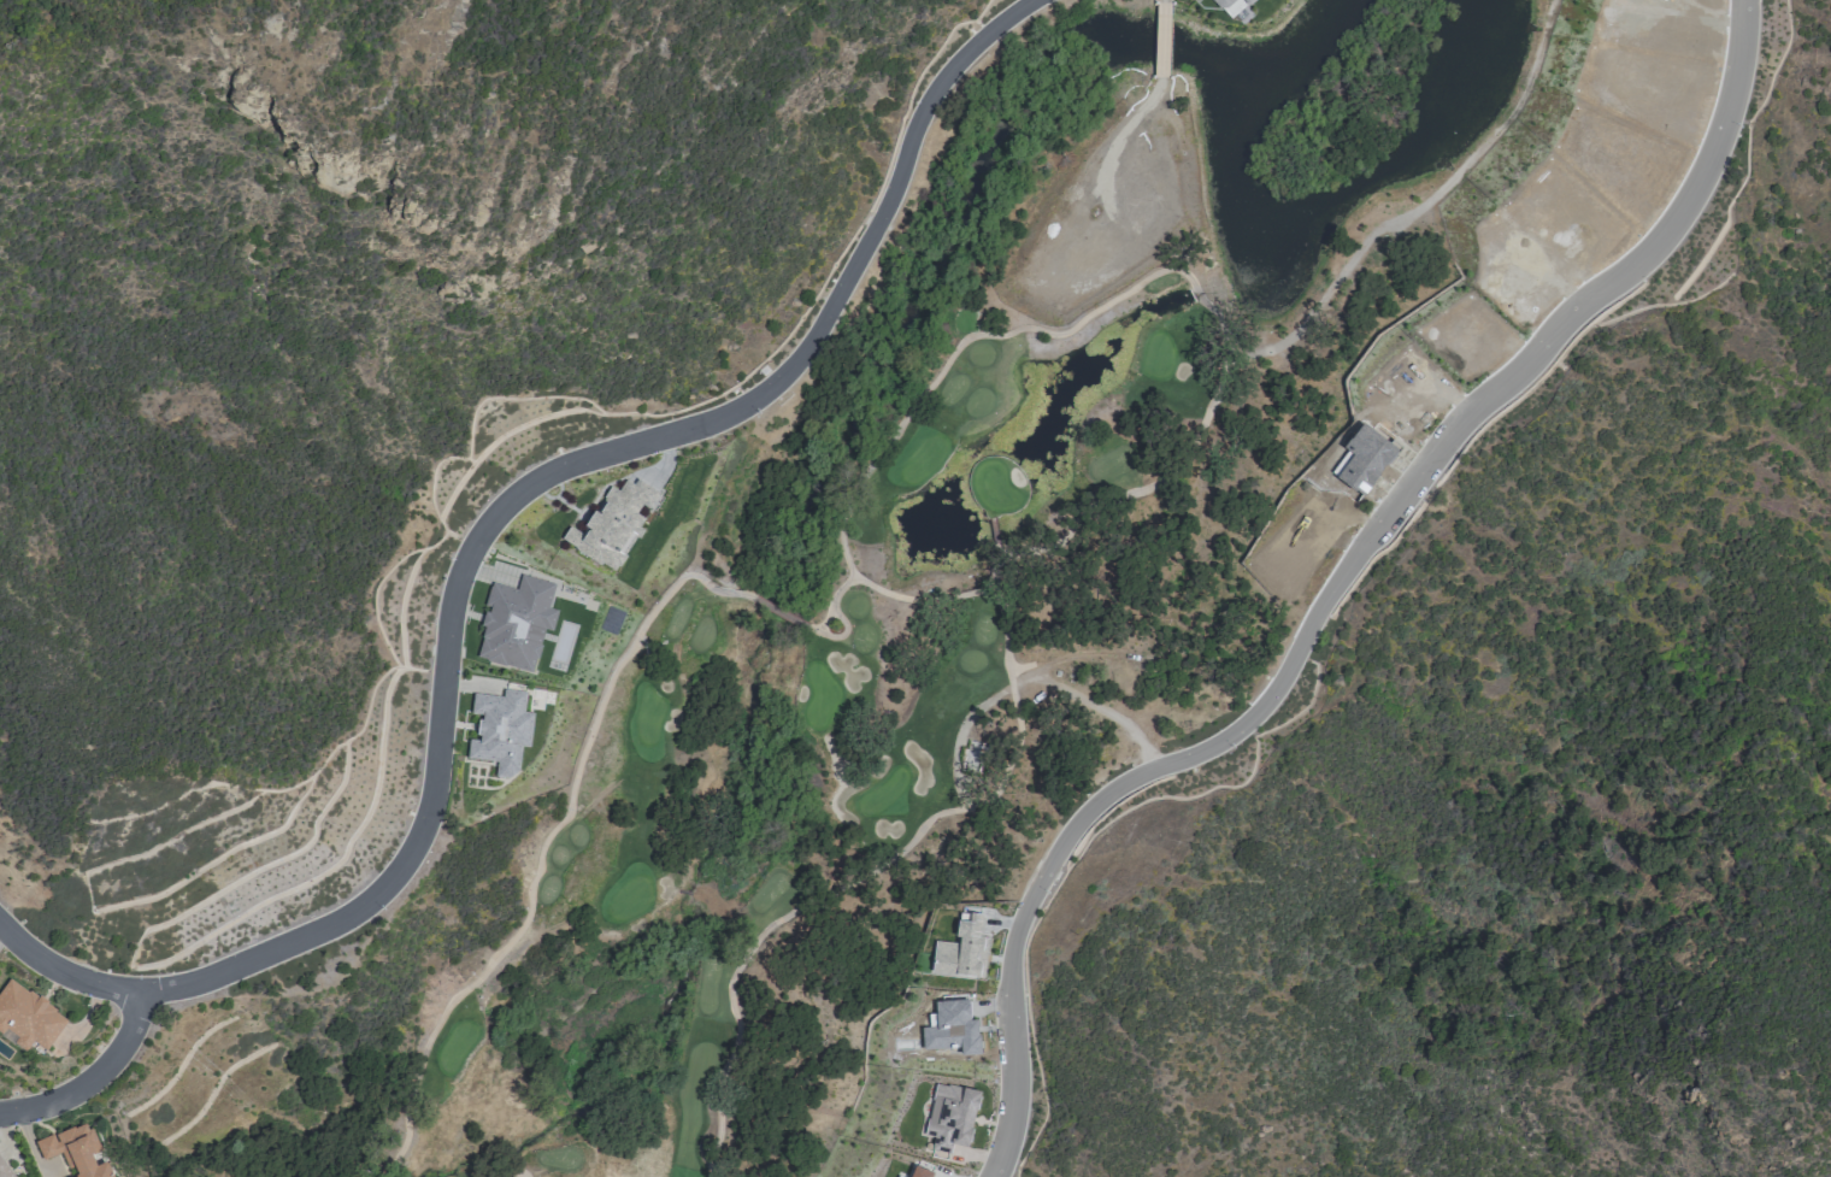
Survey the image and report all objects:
building: (1232, 6)
road: (1203, 302)
road: (1502, 377)
building: (617, 523)
road: (483, 532)
road: (852, 581)
road: (832, 604)
building: (612, 620)
road: (844, 623)
building: (514, 624)
road: (809, 629)
road: (817, 631)
road: (1006, 653)
road: (1020, 667)
road: (595, 720)
building: (496, 730)
road: (958, 736)
building: (982, 764)
road: (943, 813)
road: (1022, 911)
building: (961, 948)
road: (743, 959)
building: (28, 1018)
road: (416, 1079)
road: (92, 1081)
building: (75, 1150)
building: (4, 1170)
road: (520, 1172)

